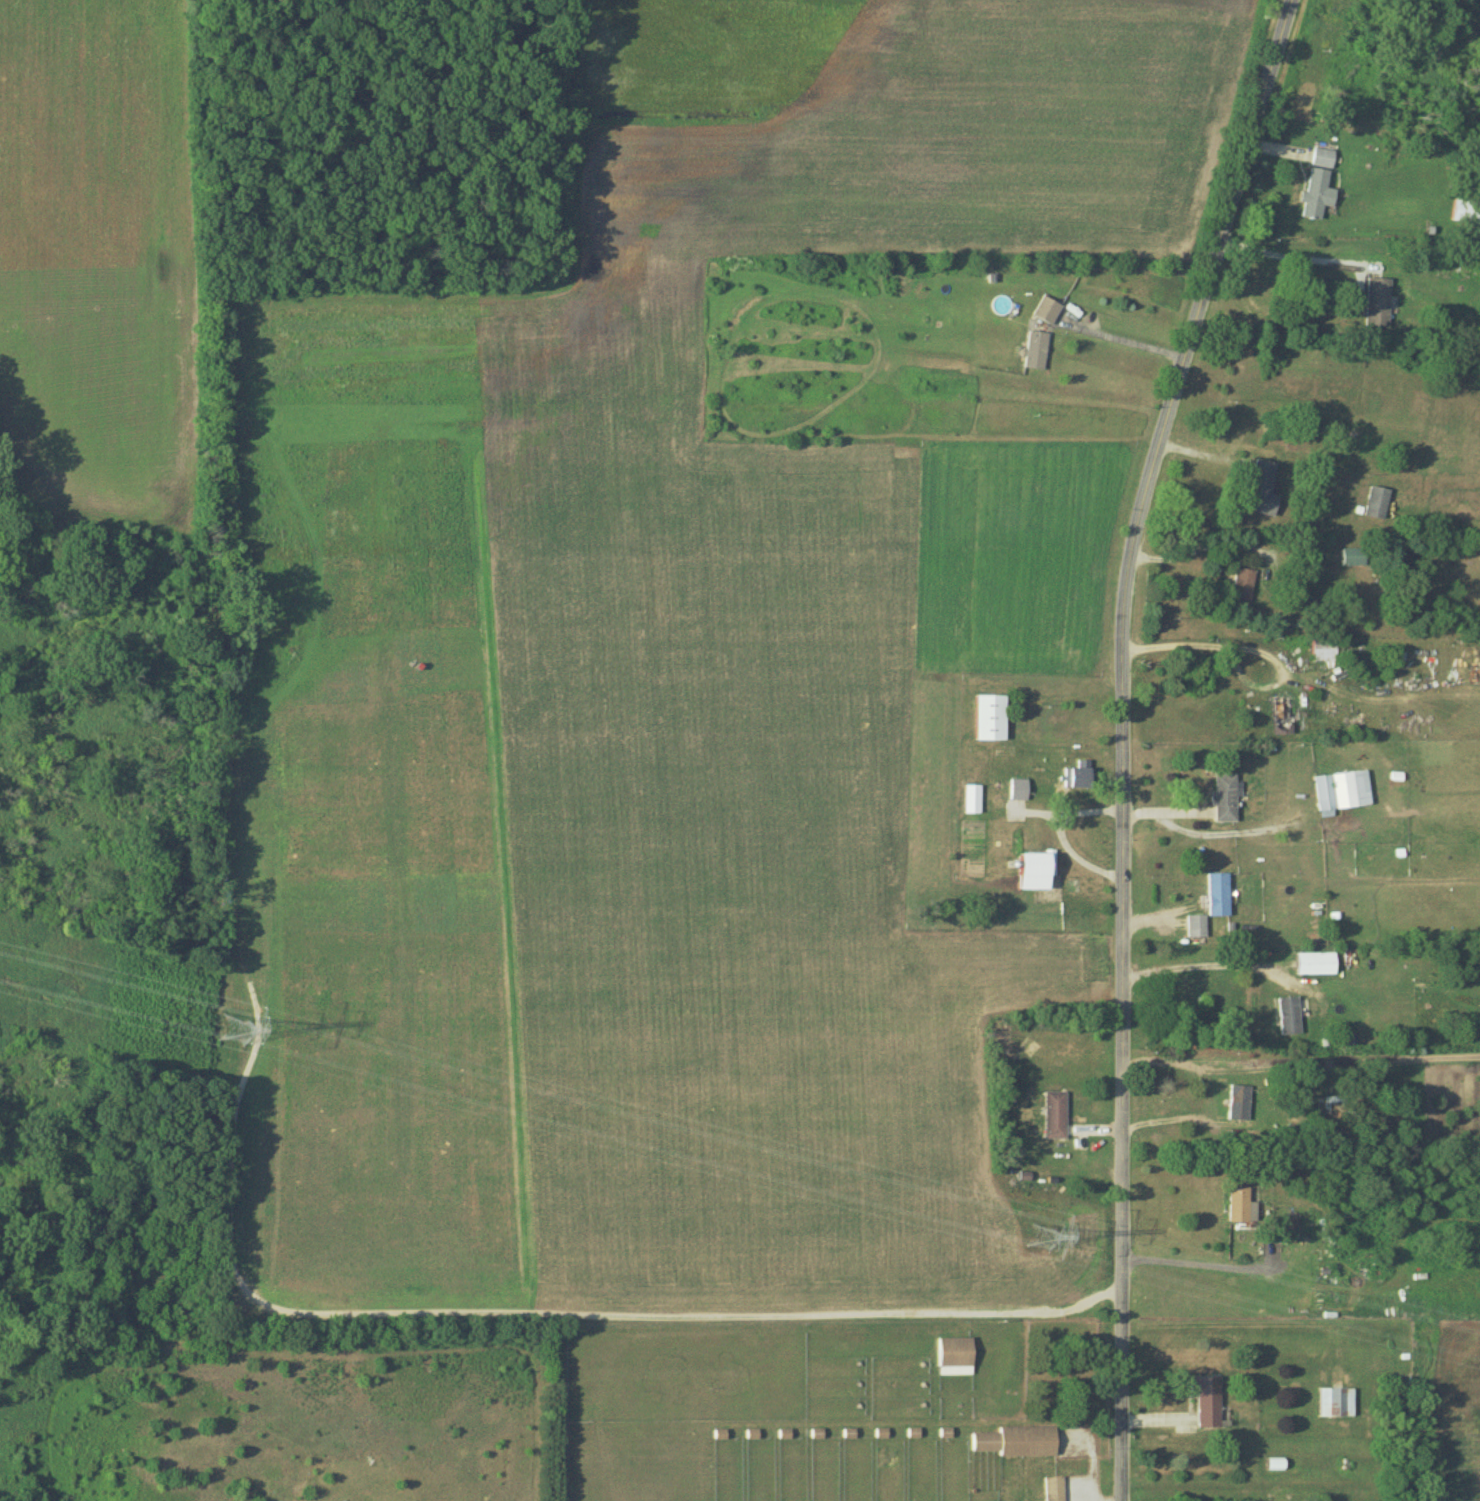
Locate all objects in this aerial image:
building: (1322, 157)
building: (1315, 193)
building: (1466, 211)
road: (1289, 255)
building: (1377, 301)
building: (1045, 310)
road: (1123, 337)
building: (1035, 350)
building: (1262, 488)
building: (1376, 502)
road: (1204, 547)
building: (1352, 555)
building: (1242, 583)
road: (1213, 646)
building: (1322, 648)
building: (1280, 715)
building: (988, 717)
road: (1122, 739)
building: (1076, 775)
building: (1017, 789)
building: (1341, 791)
building: (1224, 796)
building: (971, 798)
road: (1070, 815)
road: (1208, 835)
road: (1077, 858)
building: (1031, 870)
building: (1217, 894)
building: (1195, 926)
road: (1208, 963)
building: (1313, 963)
building: (1191, 995)
building: (1288, 1015)
power tower: (234, 1027)
building: (1054, 1114)
building: (1239, 1205)
building: (1280, 1230)
power tower: (1039, 1240)
road: (1204, 1261)
building: (954, 1352)
building: (1205, 1399)
building: (1335, 1402)
building: (1014, 1441)
building: (808, 1445)
building: (1053, 1489)

